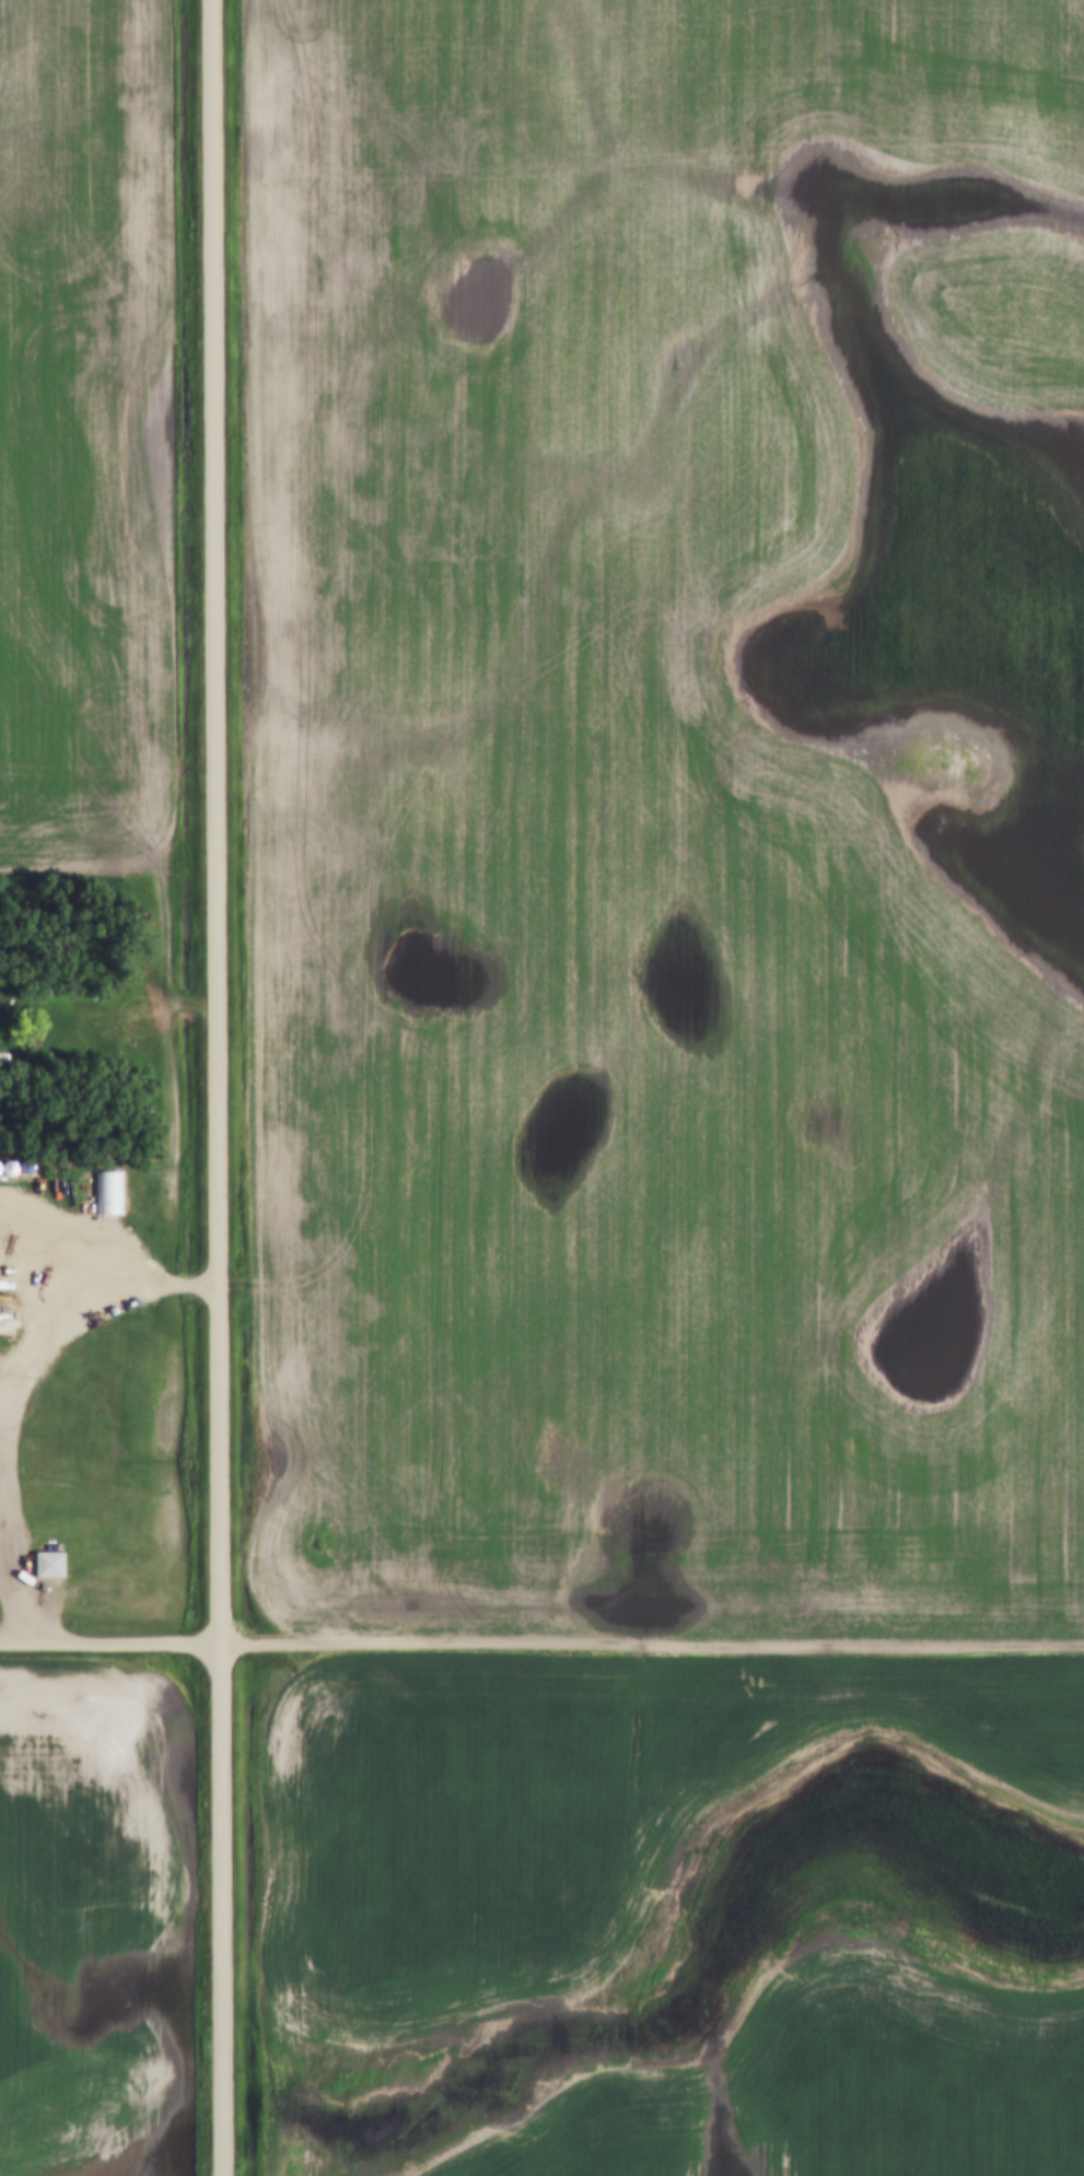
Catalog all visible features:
road: (217, 1087)
building: (0, 1170)
silo: (0, 1170)
building: (10, 1170)
silo: (10, 1170)
building: (27, 1170)
silo: (27, 1170)
building: (110, 1193)
road: (80, 1309)
building: (3, 1313)
building: (53, 1564)
road: (8, 1617)
road: (109, 1641)
road: (651, 1643)

